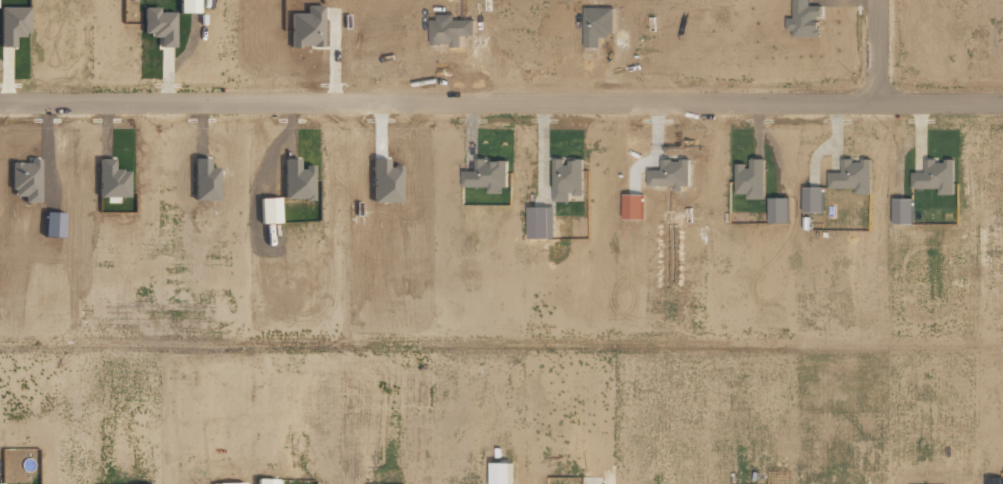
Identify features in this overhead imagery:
building: (187, 6)
building: (12, 24)
building: (158, 26)
road: (877, 51)
road: (501, 102)
building: (487, 175)
building: (851, 176)
building: (935, 177)
building: (750, 179)
building: (811, 200)
building: (902, 211)
building: (265, 481)
building: (234, 483)

